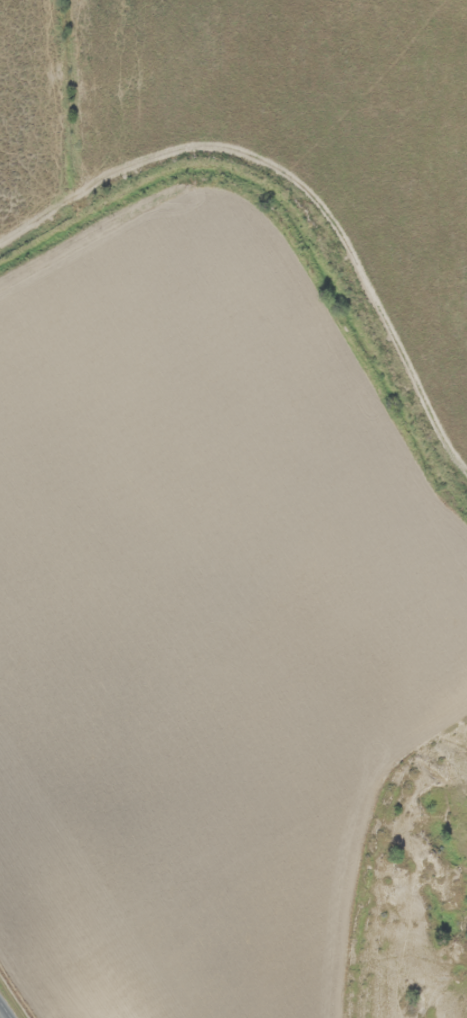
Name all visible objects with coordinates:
road: (3, 1012)

